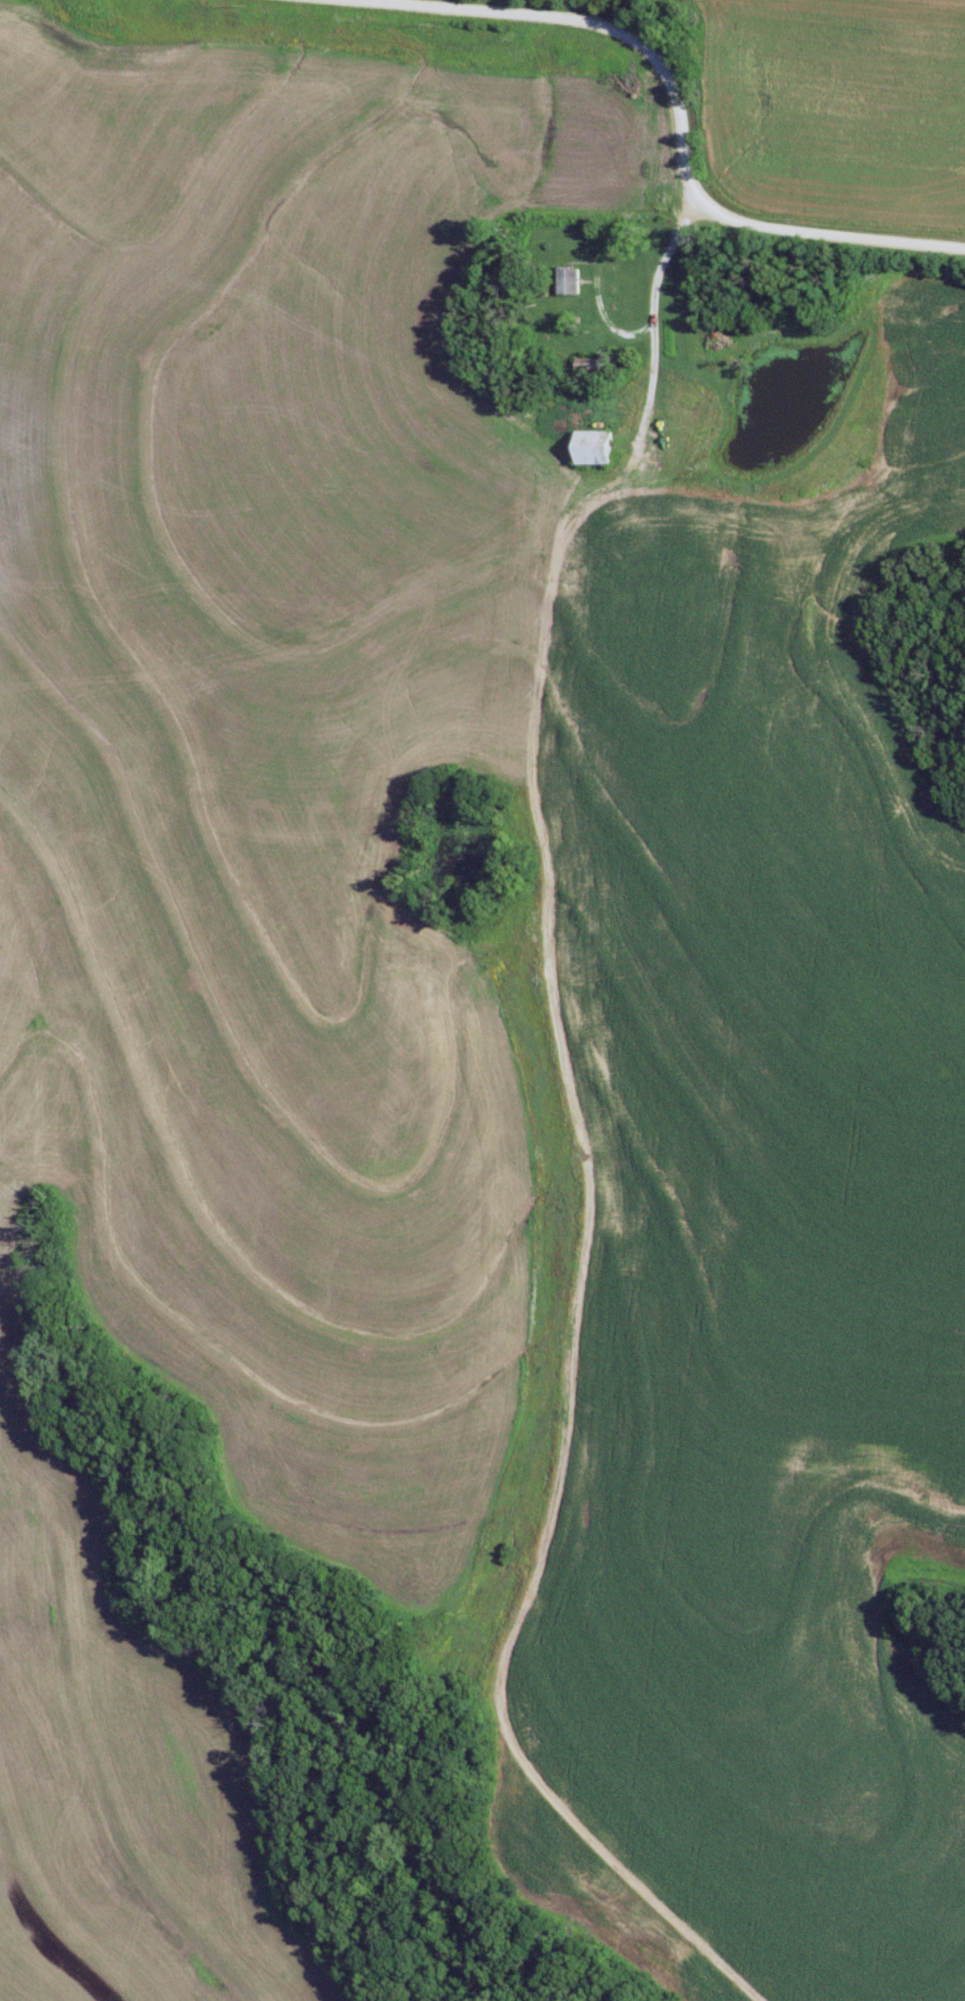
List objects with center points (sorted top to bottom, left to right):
road: (669, 131)
building: (569, 280)
road: (648, 307)
building: (595, 446)

